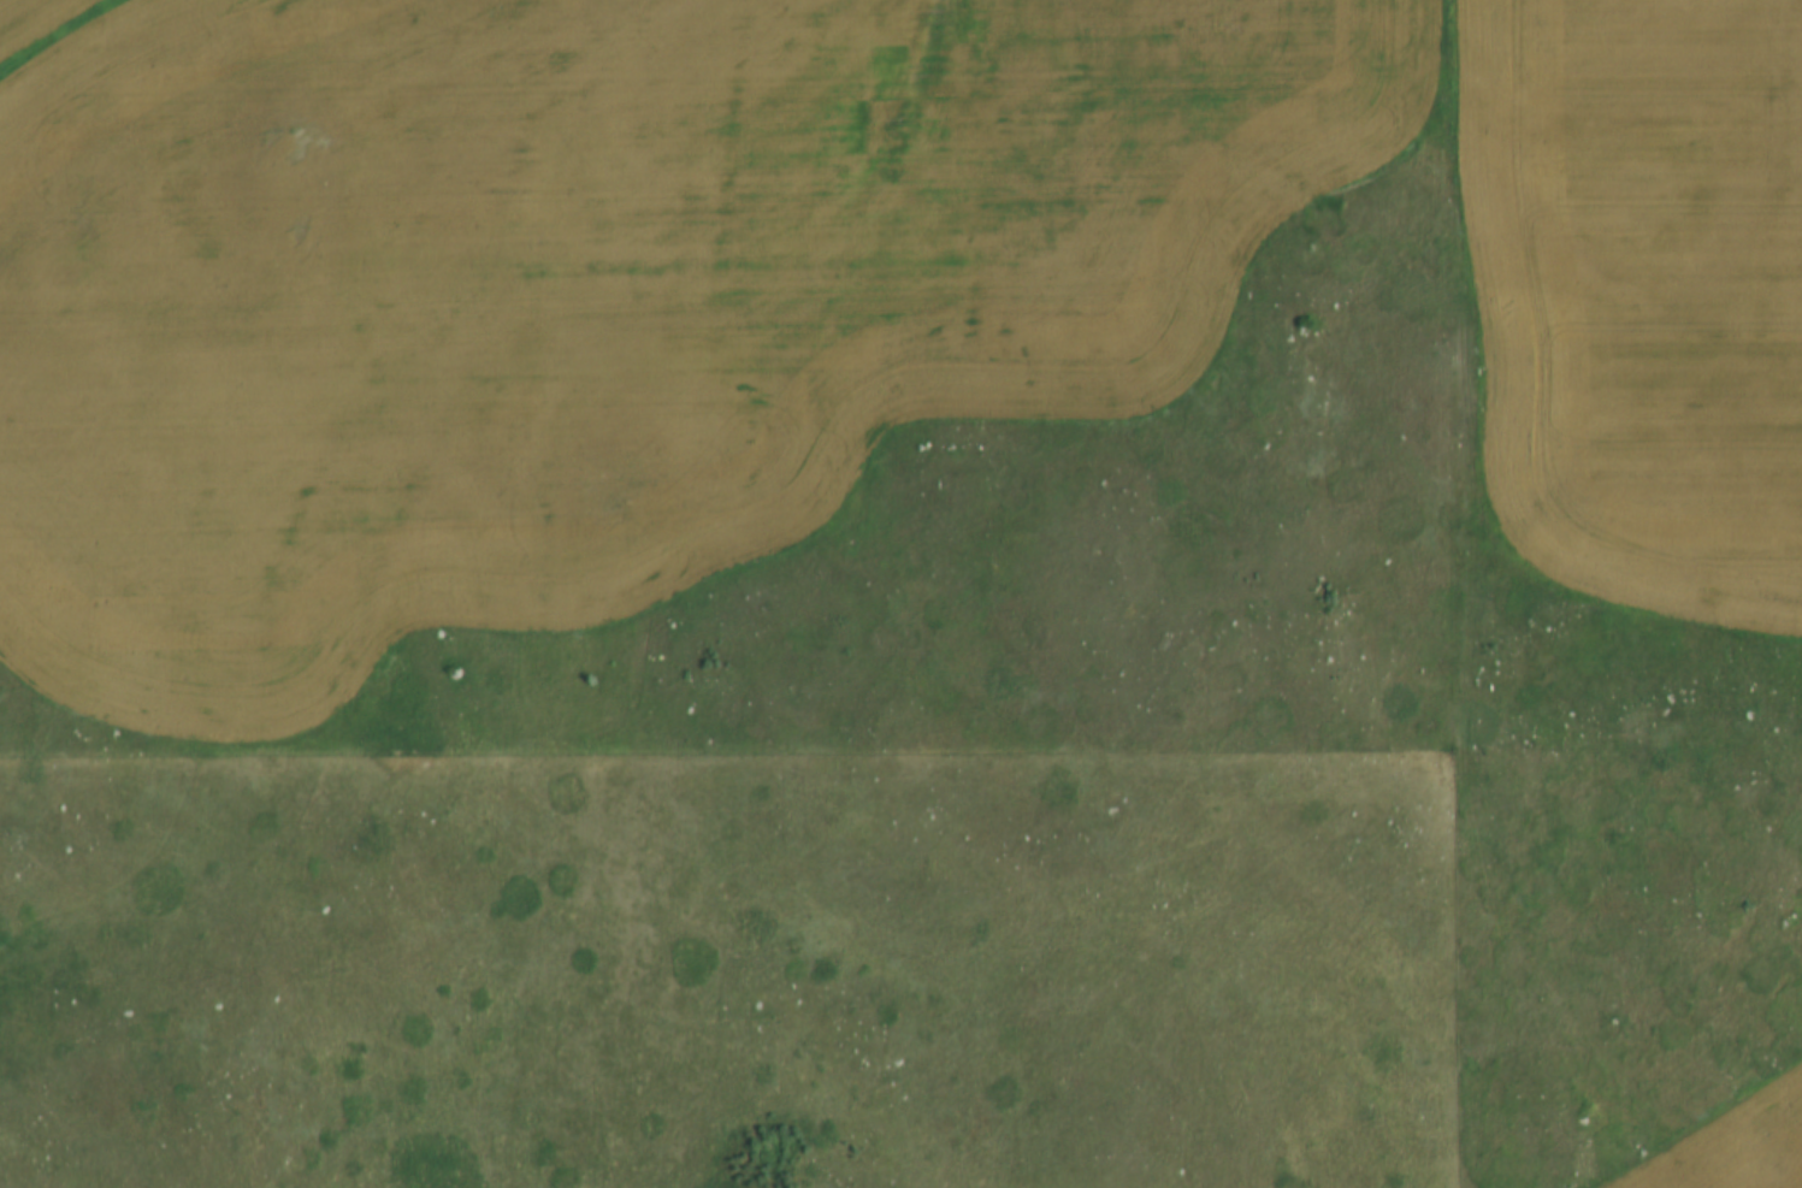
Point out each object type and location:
road: (1477, 134)

